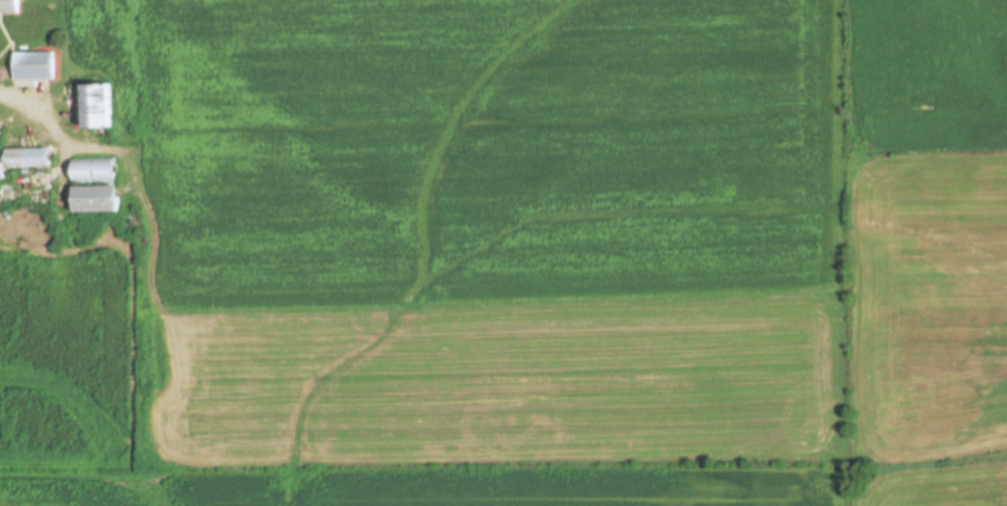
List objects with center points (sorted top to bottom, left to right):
building: (9, 6)
building: (35, 65)
building: (98, 106)
building: (120, 134)
road: (57, 135)
building: (29, 158)
building: (93, 170)
building: (2, 173)
building: (97, 199)

